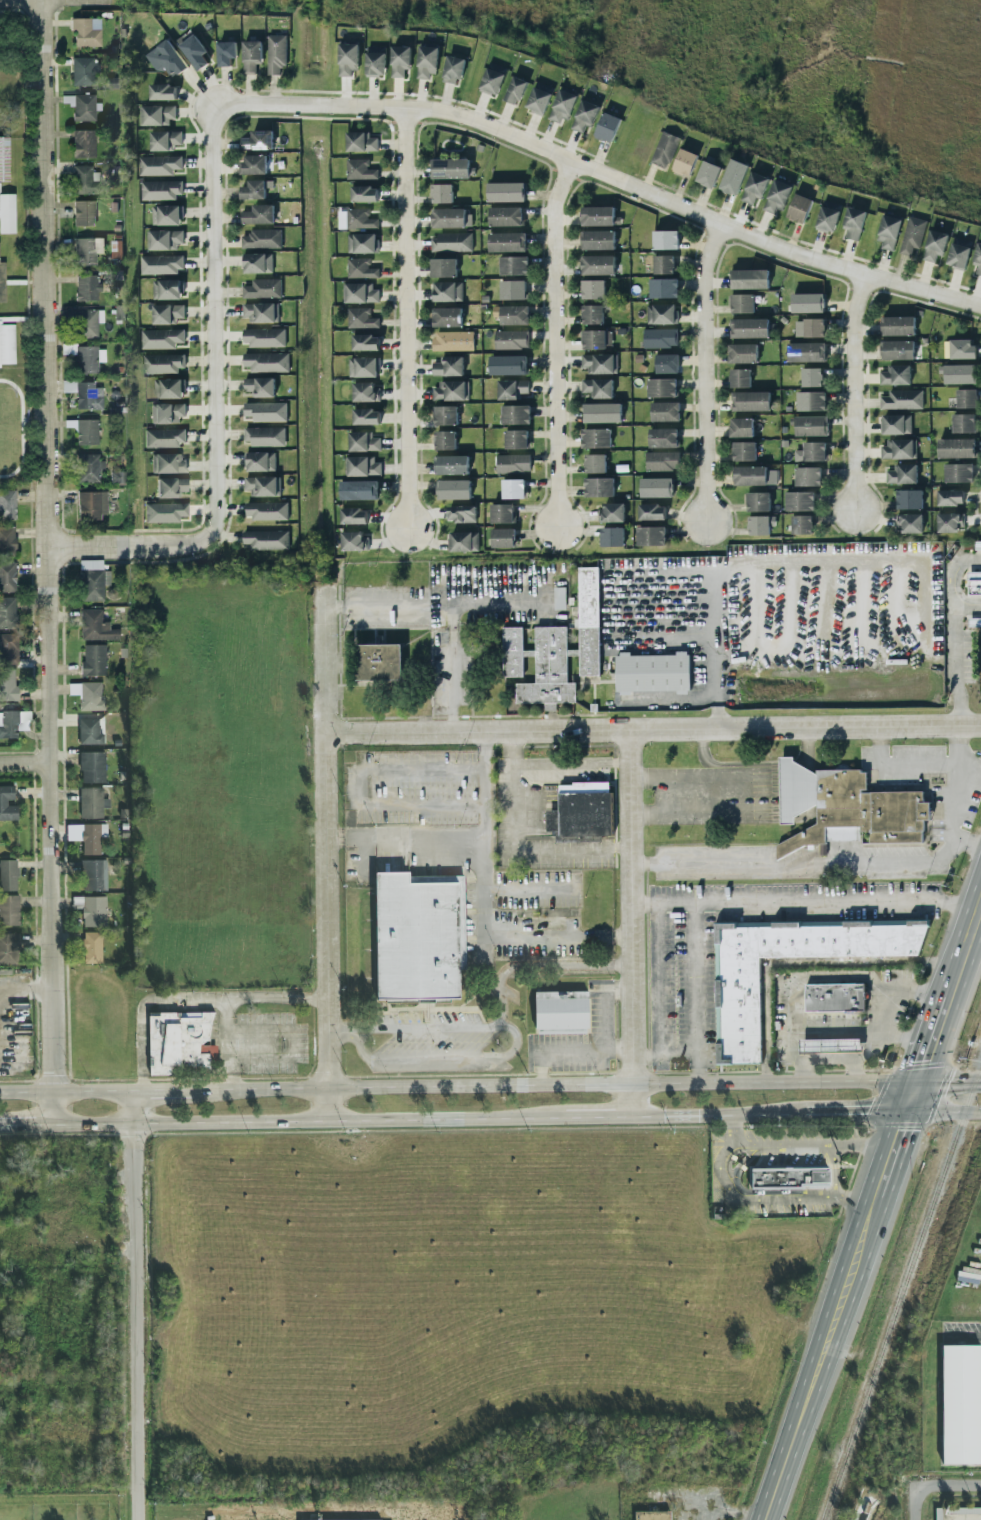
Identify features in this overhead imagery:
building: (84, 33)
building: (193, 49)
building: (226, 53)
building: (276, 53)
building: (251, 55)
building: (348, 59)
building: (399, 60)
building: (427, 61)
building: (172, 62)
building: (375, 62)
building: (452, 69)
building: (83, 71)
building: (492, 79)
building: (515, 90)
building: (163, 92)
building: (539, 98)
building: (561, 106)
building: (83, 107)
building: (157, 114)
building: (584, 115)
building: (608, 127)
building: (165, 140)
building: (257, 140)
building: (361, 142)
building: (82, 143)
building: (664, 150)
building: (3, 160)
building: (685, 163)
building: (254, 164)
building: (159, 165)
building: (450, 168)
building: (360, 169)
building: (708, 174)
road: (599, 175)
building: (733, 177)
building: (84, 180)
building: (754, 188)
building: (255, 189)
building: (161, 190)
building: (506, 192)
building: (441, 193)
building: (364, 194)
building: (777, 197)
building: (799, 208)
building: (6, 213)
building: (83, 213)
building: (166, 215)
building: (258, 215)
building: (506, 216)
building: (597, 216)
building: (828, 216)
building: (451, 218)
building: (360, 219)
building: (853, 223)
building: (888, 231)
building: (912, 235)
building: (262, 238)
building: (164, 240)
building: (598, 240)
building: (665, 240)
building: (451, 242)
building: (507, 242)
building: (362, 243)
building: (934, 245)
building: (86, 250)
building: (959, 253)
building: (977, 259)
building: (256, 263)
building: (162, 264)
building: (664, 264)
building: (514, 265)
building: (598, 265)
building: (443, 267)
building: (361, 268)
building: (750, 279)
building: (2, 282)
building: (86, 287)
building: (262, 288)
building: (664, 288)
building: (166, 289)
building: (593, 289)
building: (513, 290)
building: (447, 291)
building: (360, 293)
building: (742, 303)
building: (808, 303)
building: (259, 312)
building: (167, 313)
road: (209, 314)
building: (592, 314)
building: (662, 314)
building: (514, 315)
building: (446, 317)
building: (361, 318)
road: (404, 318)
building: (84, 322)
building: (898, 326)
building: (749, 328)
building: (809, 328)
building: (264, 337)
building: (161, 338)
building: (660, 338)
building: (511, 339)
building: (596, 339)
building: (453, 341)
building: (366, 343)
building: (6, 344)
road: (552, 346)
building: (946, 349)
building: (962, 349)
building: (897, 350)
building: (806, 352)
building: (742, 353)
building: (88, 358)
building: (267, 362)
building: (164, 363)
building: (599, 363)
building: (668, 363)
building: (508, 365)
building: (448, 366)
building: (363, 367)
road: (700, 371)
building: (960, 374)
building: (895, 375)
building: (812, 377)
building: (740, 378)
building: (260, 387)
building: (168, 388)
building: (598, 388)
building: (662, 388)
building: (513, 389)
road: (851, 389)
building: (450, 391)
building: (365, 392)
building: (87, 396)
building: (966, 398)
building: (902, 399)
building: (750, 401)
building: (811, 401)
building: (265, 412)
building: (665, 412)
building: (166, 413)
building: (602, 413)
building: (445, 415)
building: (516, 415)
building: (367, 416)
building: (963, 423)
building: (896, 424)
building: (811, 426)
building: (756, 427)
building: (741, 428)
building: (86, 432)
building: (264, 436)
building: (164, 437)
building: (596, 438)
building: (663, 438)
building: (517, 439)
building: (445, 440)
building: (364, 441)
building: (898, 448)
building: (956, 448)
building: (744, 451)
building: (811, 452)
building: (260, 461)
building: (662, 461)
building: (168, 463)
building: (513, 463)
building: (595, 463)
building: (452, 464)
building: (364, 466)
building: (88, 468)
building: (958, 473)
building: (902, 474)
building: (754, 476)
building: (808, 476)
building: (261, 486)
building: (169, 487)
building: (599, 487)
building: (513, 488)
building: (656, 488)
building: (454, 489)
building: (360, 490)
building: (950, 497)
building: (909, 499)
building: (759, 501)
building: (800, 501)
building: (6, 504)
building: (90, 504)
building: (266, 510)
building: (164, 512)
building: (612, 512)
building: (652, 512)
building: (462, 513)
building: (502, 513)
building: (354, 516)
building: (908, 523)
building: (948, 523)
building: (802, 524)
building: (759, 525)
building: (651, 536)
building: (612, 537)
building: (503, 538)
building: (6, 539)
building: (266, 539)
building: (354, 541)
building: (463, 541)
building: (977, 545)
road: (175, 546)
road: (88, 547)
road: (44, 562)
building: (7, 577)
building: (91, 580)
building: (974, 583)
building: (559, 598)
road: (434, 606)
road: (966, 606)
building: (7, 613)
building: (588, 621)
building: (974, 621)
building: (95, 626)
road: (952, 633)
building: (8, 648)
building: (92, 660)
building: (379, 662)
building: (540, 666)
road: (449, 670)
road: (716, 672)
building: (651, 673)
building: (7, 684)
building: (87, 696)
building: (13, 723)
road: (653, 731)
building: (90, 733)
road: (897, 763)
road: (23, 765)
road: (569, 765)
building: (93, 768)
road: (656, 778)
road: (360, 788)
road: (769, 793)
building: (92, 804)
building: (8, 805)
building: (846, 808)
building: (585, 810)
road: (658, 815)
building: (552, 820)
road: (403, 838)
building: (93, 839)
road: (966, 845)
road: (512, 848)
road: (326, 856)
road: (852, 863)
building: (9, 876)
building: (94, 876)
road: (528, 889)
road: (803, 902)
road: (480, 910)
building: (9, 911)
building: (92, 911)
road: (629, 923)
building: (419, 938)
building: (92, 948)
building: (9, 950)
road: (958, 955)
road: (799, 962)
road: (536, 965)
road: (655, 978)
road: (868, 979)
road: (22, 988)
road: (695, 994)
building: (834, 997)
road: (191, 1000)
road: (604, 1007)
building: (737, 1011)
building: (561, 1014)
road: (859, 1028)
road: (339, 1030)
road: (868, 1032)
road: (293, 1042)
building: (180, 1043)
road: (223, 1043)
building: (829, 1045)
road: (791, 1049)
road: (924, 1049)
road: (510, 1050)
road: (662, 1050)
road: (566, 1052)
road: (805, 1070)
traffic signals: (913, 1082)
road: (947, 1082)
road: (554, 1085)
road: (163, 1090)
road: (65, 1092)
road: (908, 1097)
road: (854, 1112)
traffic signals: (903, 1112)
road: (942, 1112)
road: (717, 1114)
road: (598, 1116)
road: (307, 1121)
road: (25, 1124)
road: (809, 1147)
road: (887, 1158)
road: (835, 1173)
building: (788, 1178)
road: (764, 1193)
road: (757, 1199)
railway: (900, 1291)
road: (134, 1305)
road: (966, 1335)
road: (819, 1363)
building: (960, 1405)
road: (949, 1487)
road: (915, 1506)
building: (964, 1513)
building: (651, 1515)

